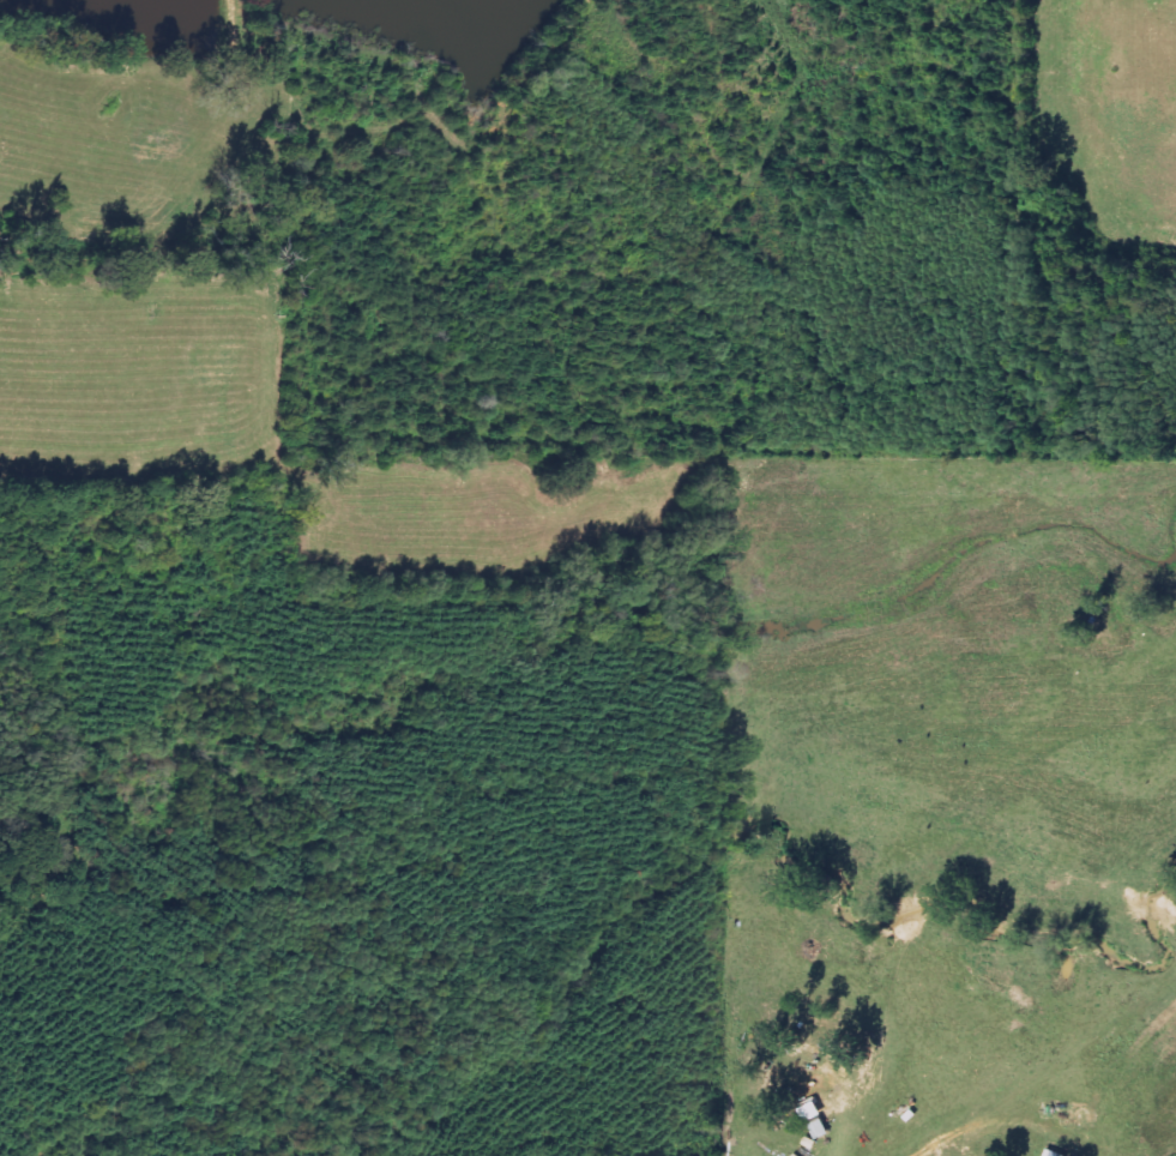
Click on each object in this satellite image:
building: (813, 1113)
building: (821, 1130)
building: (1053, 1154)

